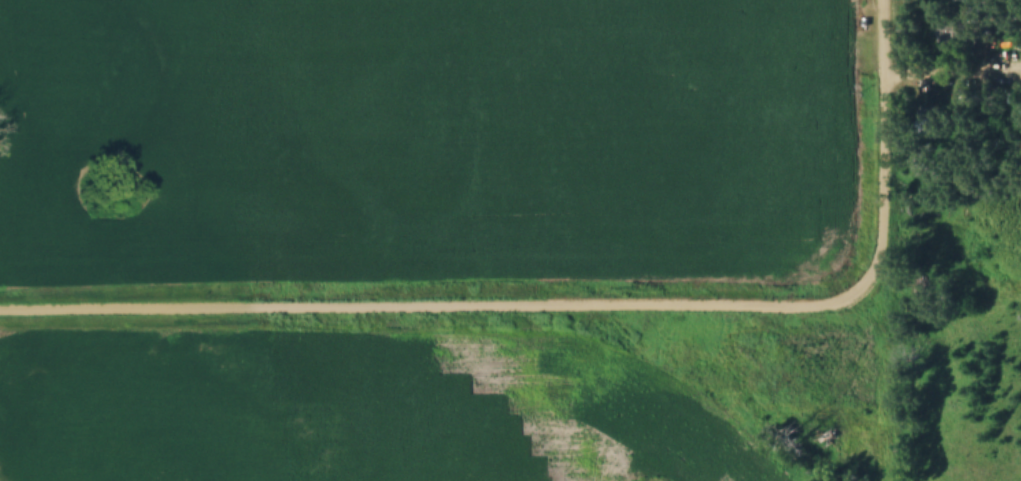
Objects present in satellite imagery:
building: (952, 31)
road: (882, 145)
road: (441, 304)

